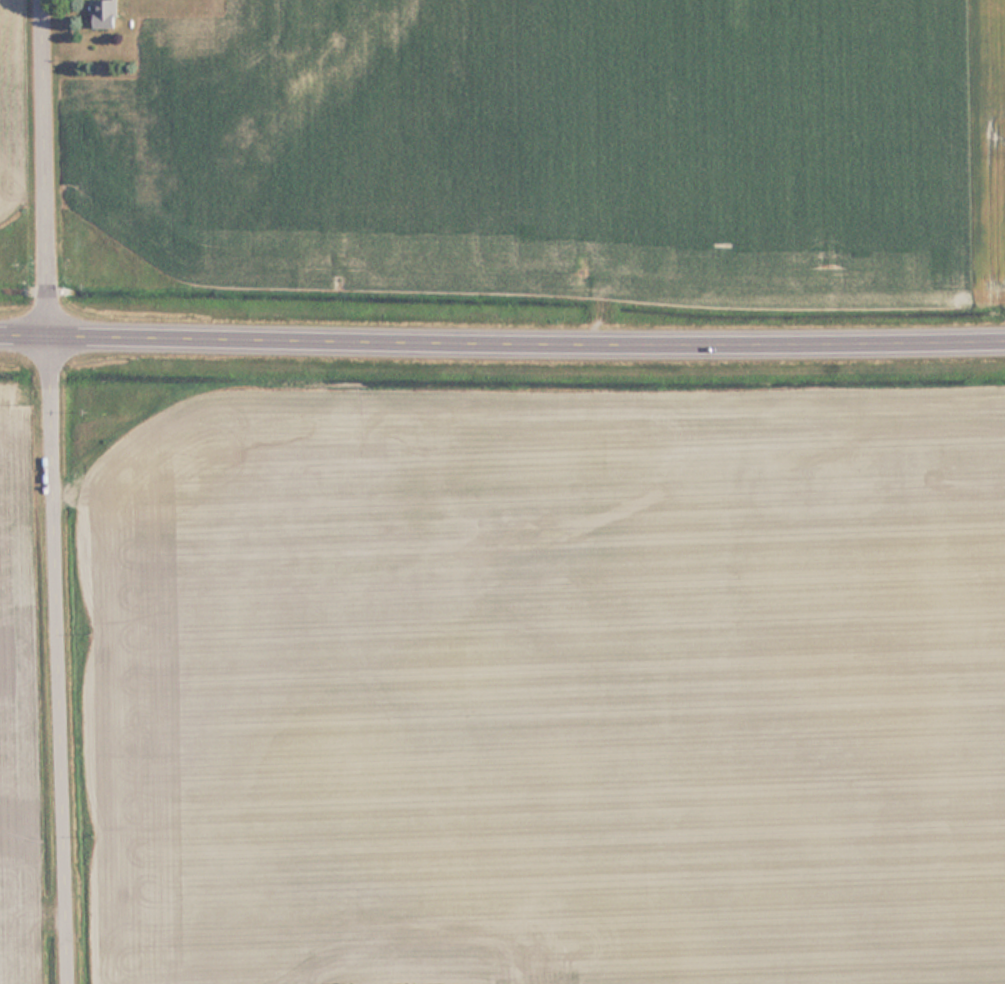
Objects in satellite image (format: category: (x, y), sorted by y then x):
building: (106, 14)
road: (502, 342)
road: (53, 492)

